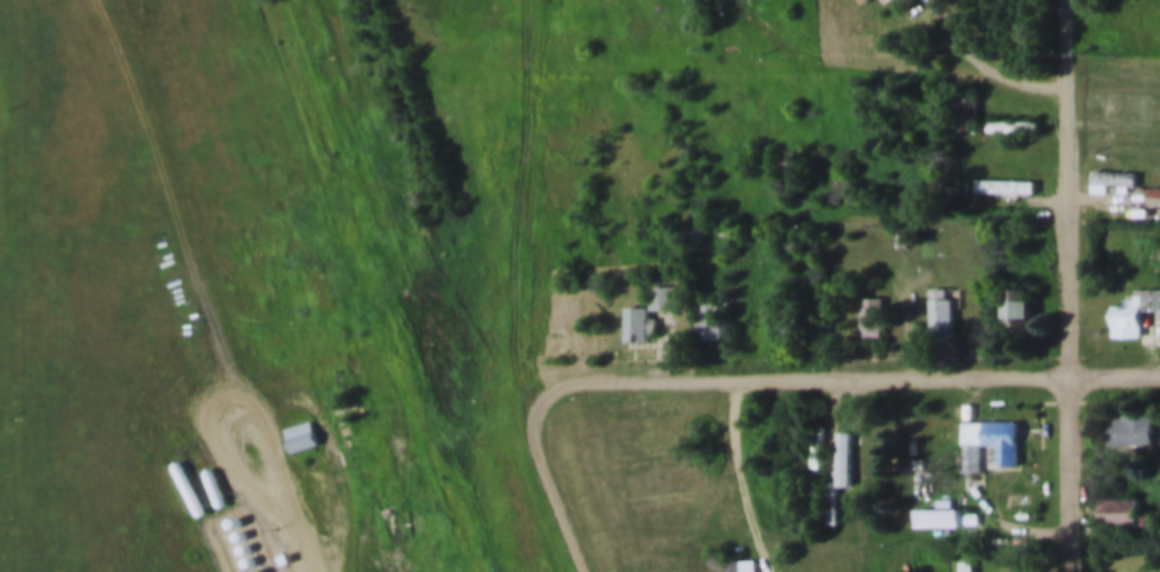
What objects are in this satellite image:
building: (861, 1)
road: (971, 38)
road: (894, 64)
building: (1124, 83)
building: (1123, 104)
building: (1014, 107)
building: (1012, 129)
building: (1110, 161)
building: (1004, 167)
building: (1110, 182)
building: (1003, 189)
road: (543, 195)
building: (926, 225)
building: (664, 280)
road: (1072, 286)
building: (1015, 291)
building: (942, 293)
building: (1134, 294)
building: (661, 299)
building: (706, 303)
building: (791, 303)
building: (873, 303)
building: (638, 306)
building: (1132, 316)
building: (711, 319)
building: (790, 324)
building: (635, 326)
road: (851, 375)
road: (223, 381)
building: (1129, 411)
building: (303, 418)
building: (1006, 420)
building: (818, 427)
building: (1130, 432)
building: (300, 438)
building: (337, 438)
building: (849, 439)
building: (975, 445)
storage tank: (215, 471)
storage tank: (188, 472)
road: (562, 481)
building: (831, 483)
building: (1121, 492)
building: (949, 498)
storage tank: (239, 503)
building: (1118, 514)
storage tank: (243, 516)
road: (310, 528)
storage tank: (247, 529)
building: (285, 541)
storage tank: (252, 542)
building: (743, 554)
storage tank: (258, 557)
storage tank: (262, 567)
building: (1113, 570)

